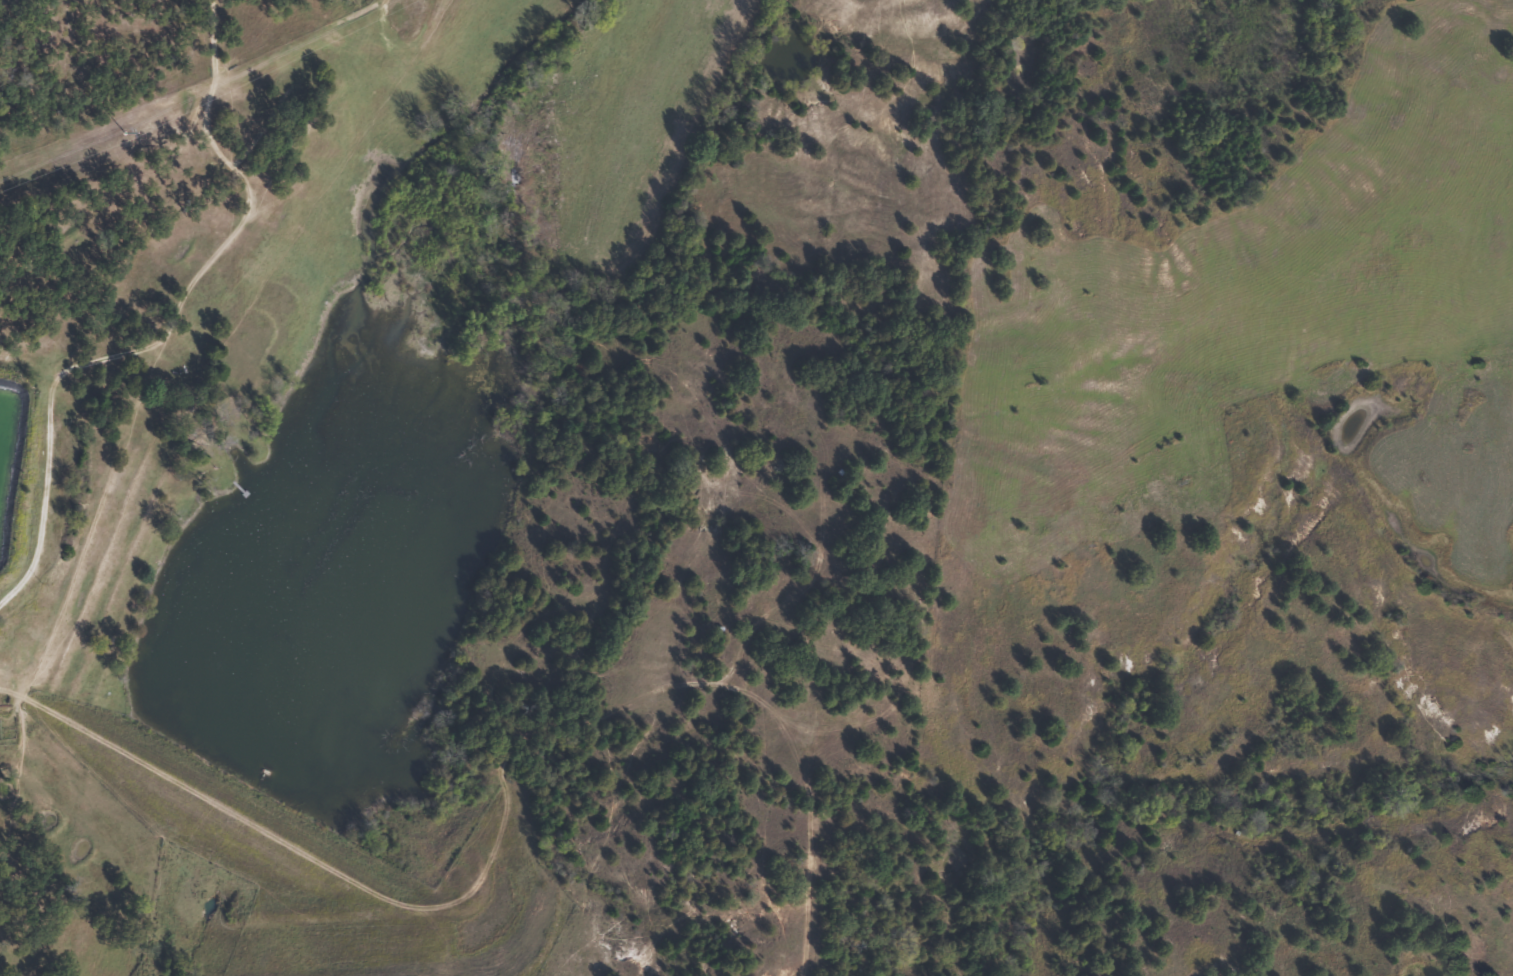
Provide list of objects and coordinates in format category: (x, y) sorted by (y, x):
power tower: (120, 129)

